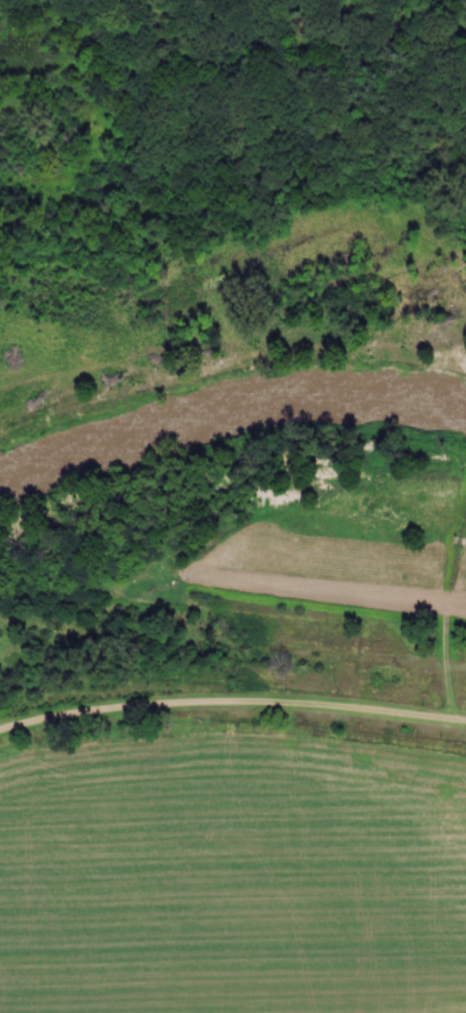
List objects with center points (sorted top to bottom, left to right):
river: (226, 405)

